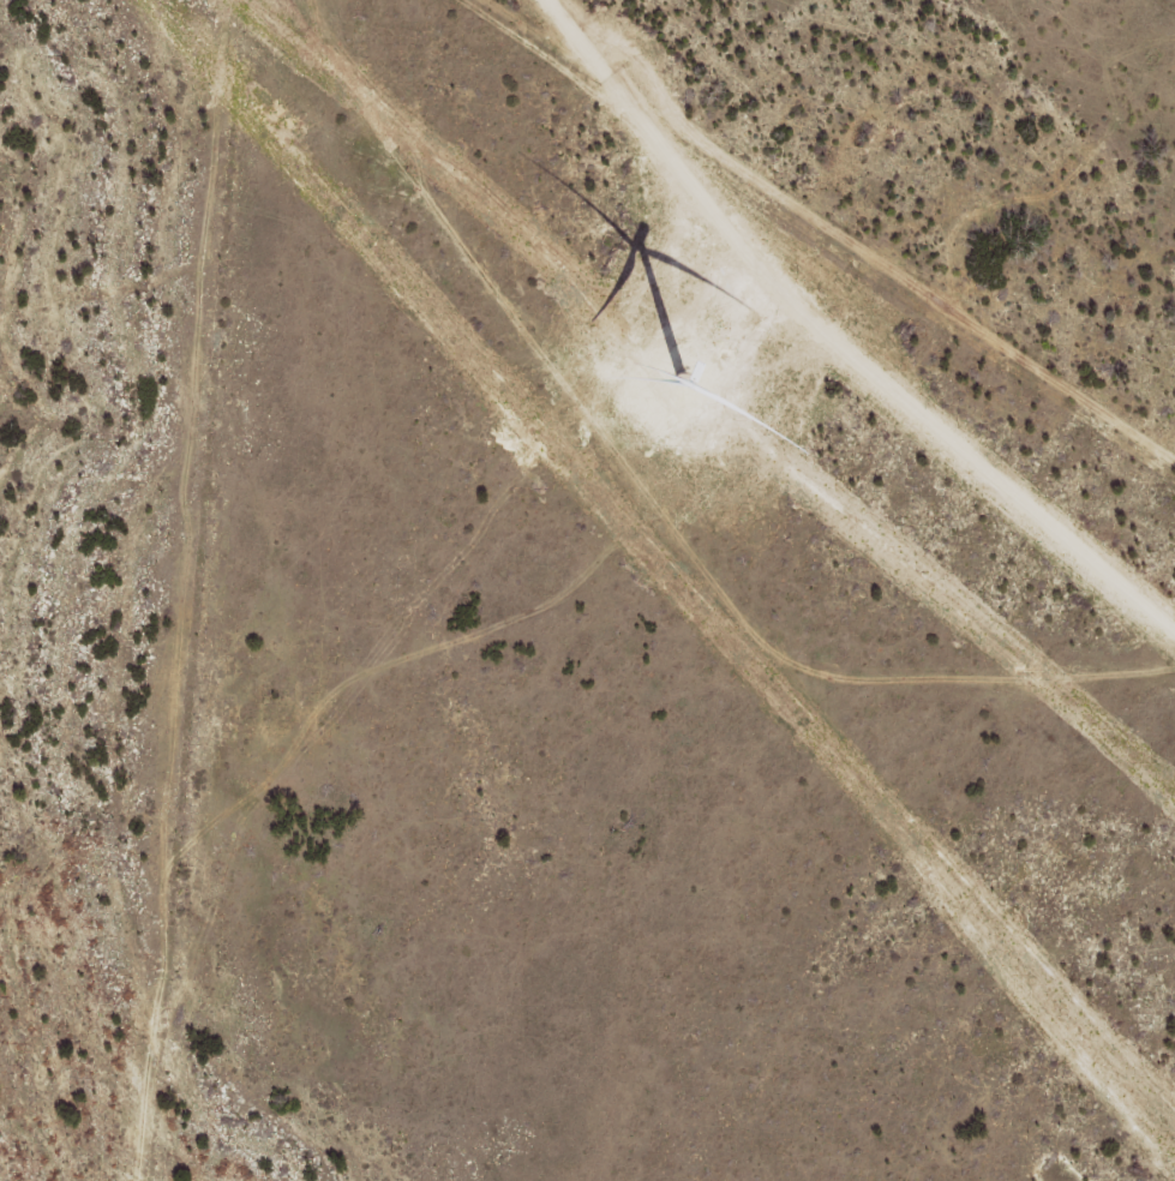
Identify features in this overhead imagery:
wind turbine: (677, 382)
road: (730, 590)
road: (1014, 690)

